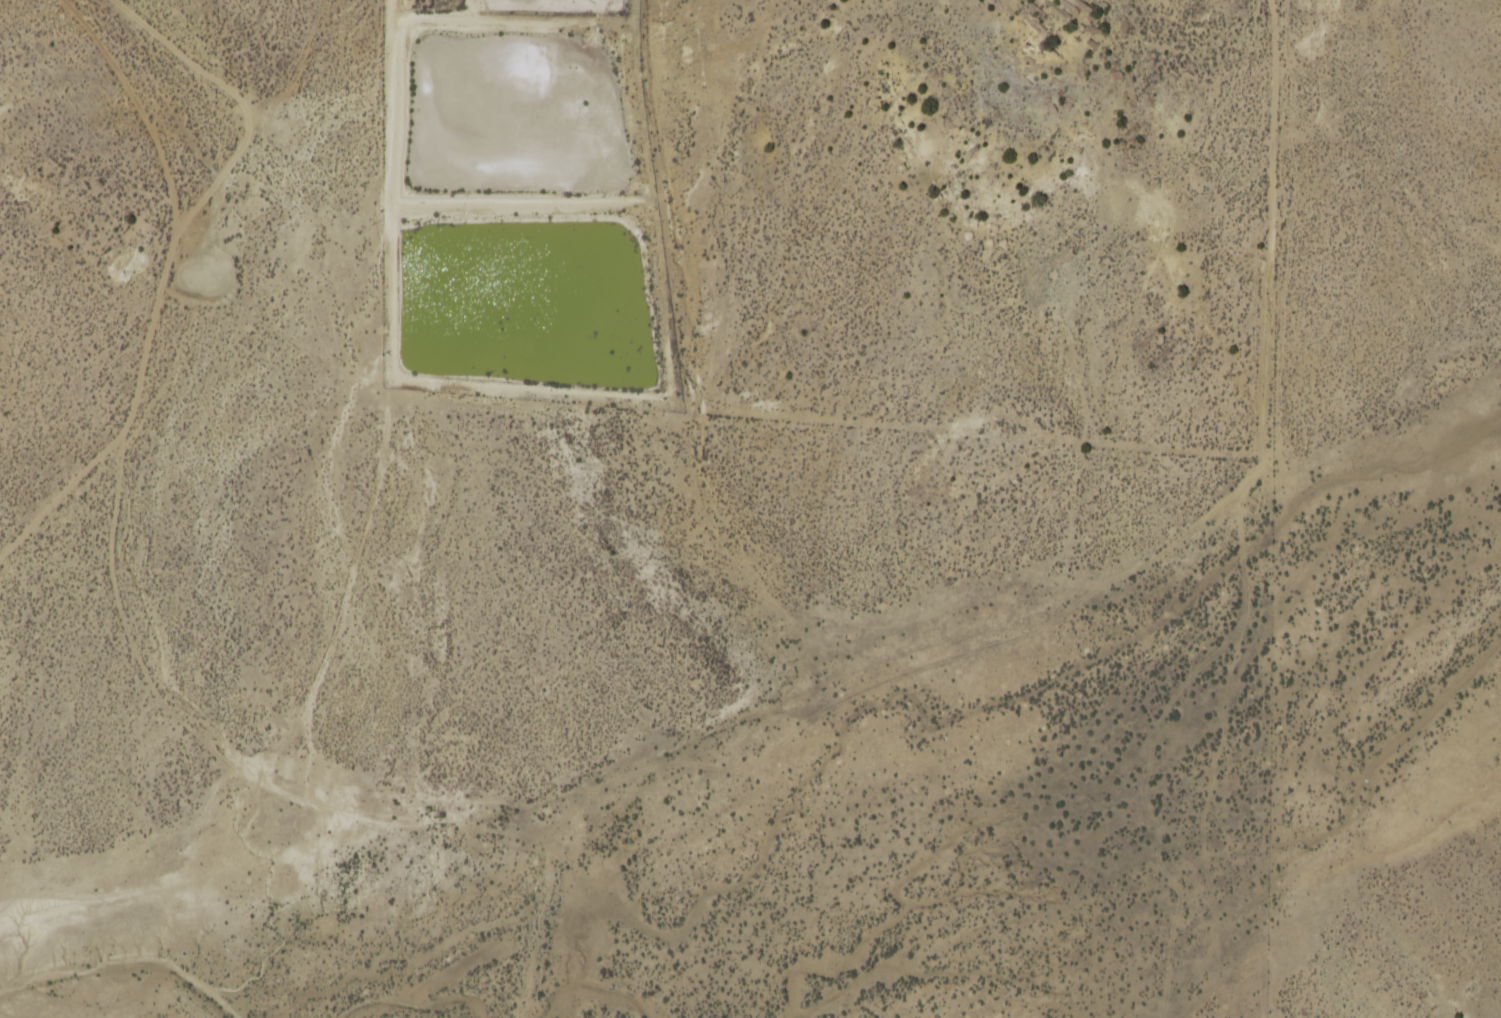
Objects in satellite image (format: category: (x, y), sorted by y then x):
road: (861, 684)

